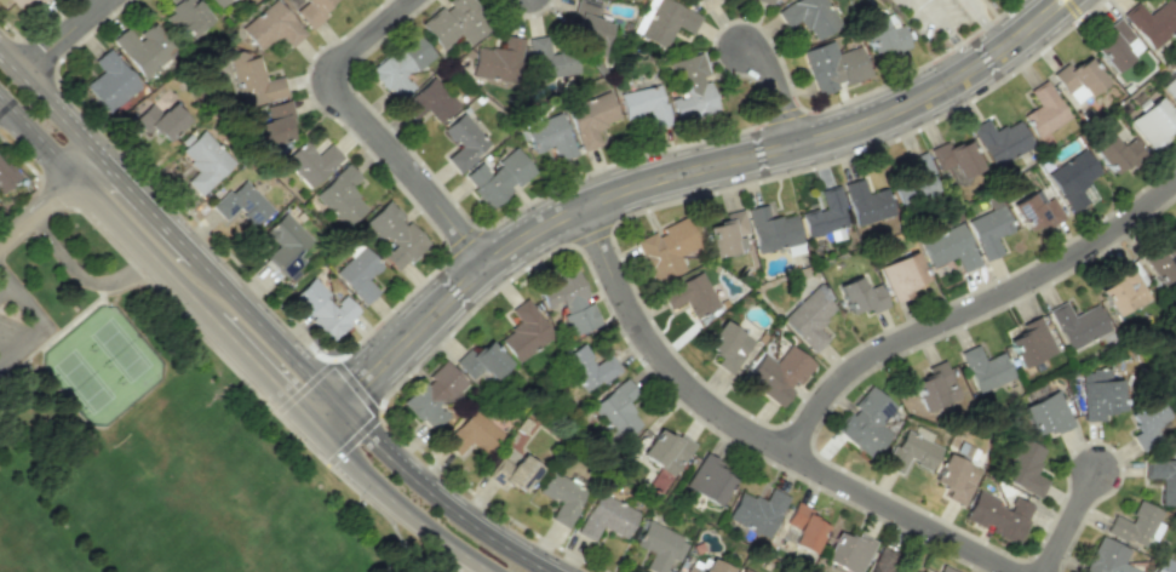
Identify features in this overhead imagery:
building: (770, 0)
building: (217, 2)
building: (34, 4)
building: (705, 4)
building: (311, 11)
building: (187, 16)
building: (808, 16)
building: (455, 22)
building: (666, 22)
building: (1152, 22)
building: (585, 23)
road: (986, 24)
building: (270, 27)
road: (61, 35)
building: (883, 36)
road: (940, 38)
building: (144, 46)
building: (1115, 46)
building: (547, 59)
building: (497, 61)
building: (400, 65)
building: (832, 67)
building: (1077, 79)
building: (252, 80)
building: (110, 81)
road: (775, 85)
building: (690, 87)
building: (1170, 87)
building: (429, 102)
building: (644, 104)
building: (1043, 110)
building: (589, 118)
building: (160, 120)
building: (1151, 120)
building: (274, 122)
road: (363, 125)
building: (549, 136)
building: (999, 141)
building: (464, 142)
building: (1115, 154)
building: (202, 159)
building: (954, 160)
building: (310, 161)
building: (6, 176)
building: (498, 177)
road: (671, 177)
building: (1073, 179)
building: (917, 185)
building: (340, 196)
building: (240, 202)
building: (866, 202)
road: (104, 205)
road: (38, 210)
building: (1033, 211)
building: (825, 216)
road: (149, 230)
building: (773, 230)
building: (987, 230)
building: (725, 233)
building: (394, 235)
building: (283, 245)
building: (948, 247)
building: (666, 248)
building: (1161, 262)
road: (206, 269)
road: (5, 273)
building: (358, 274)
road: (81, 275)
building: (901, 275)
road: (5, 284)
building: (1120, 291)
building: (690, 294)
building: (860, 296)
building: (569, 302)
road: (968, 305)
building: (323, 309)
building: (809, 318)
parking lot: (19, 321)
road: (36, 324)
building: (1077, 325)
building: (524, 332)
building: (1029, 342)
building: (727, 347)
building: (481, 361)
building: (587, 367)
building: (985, 368)
road: (263, 370)
building: (778, 374)
building: (933, 387)
building: (1098, 394)
building: (432, 395)
building: (616, 410)
building: (1045, 413)
building: (866, 422)
building: (1143, 423)
park: (147, 430)
building: (472, 434)
road: (752, 439)
building: (665, 451)
building: (910, 452)
road: (354, 463)
building: (1023, 468)
building: (512, 469)
building: (954, 477)
building: (1161, 477)
building: (709, 480)
building: (562, 497)
park: (188, 501)
building: (756, 511)
building: (997, 515)
road: (1066, 516)
building: (606, 517)
building: (1132, 525)
building: (803, 527)
road: (480, 528)
road: (441, 537)
park: (24, 542)
building: (659, 545)
building: (847, 550)
building: (1107, 557)
road: (453, 561)
building: (1164, 565)
building: (705, 566)
building: (741, 570)
building: (943, 570)

